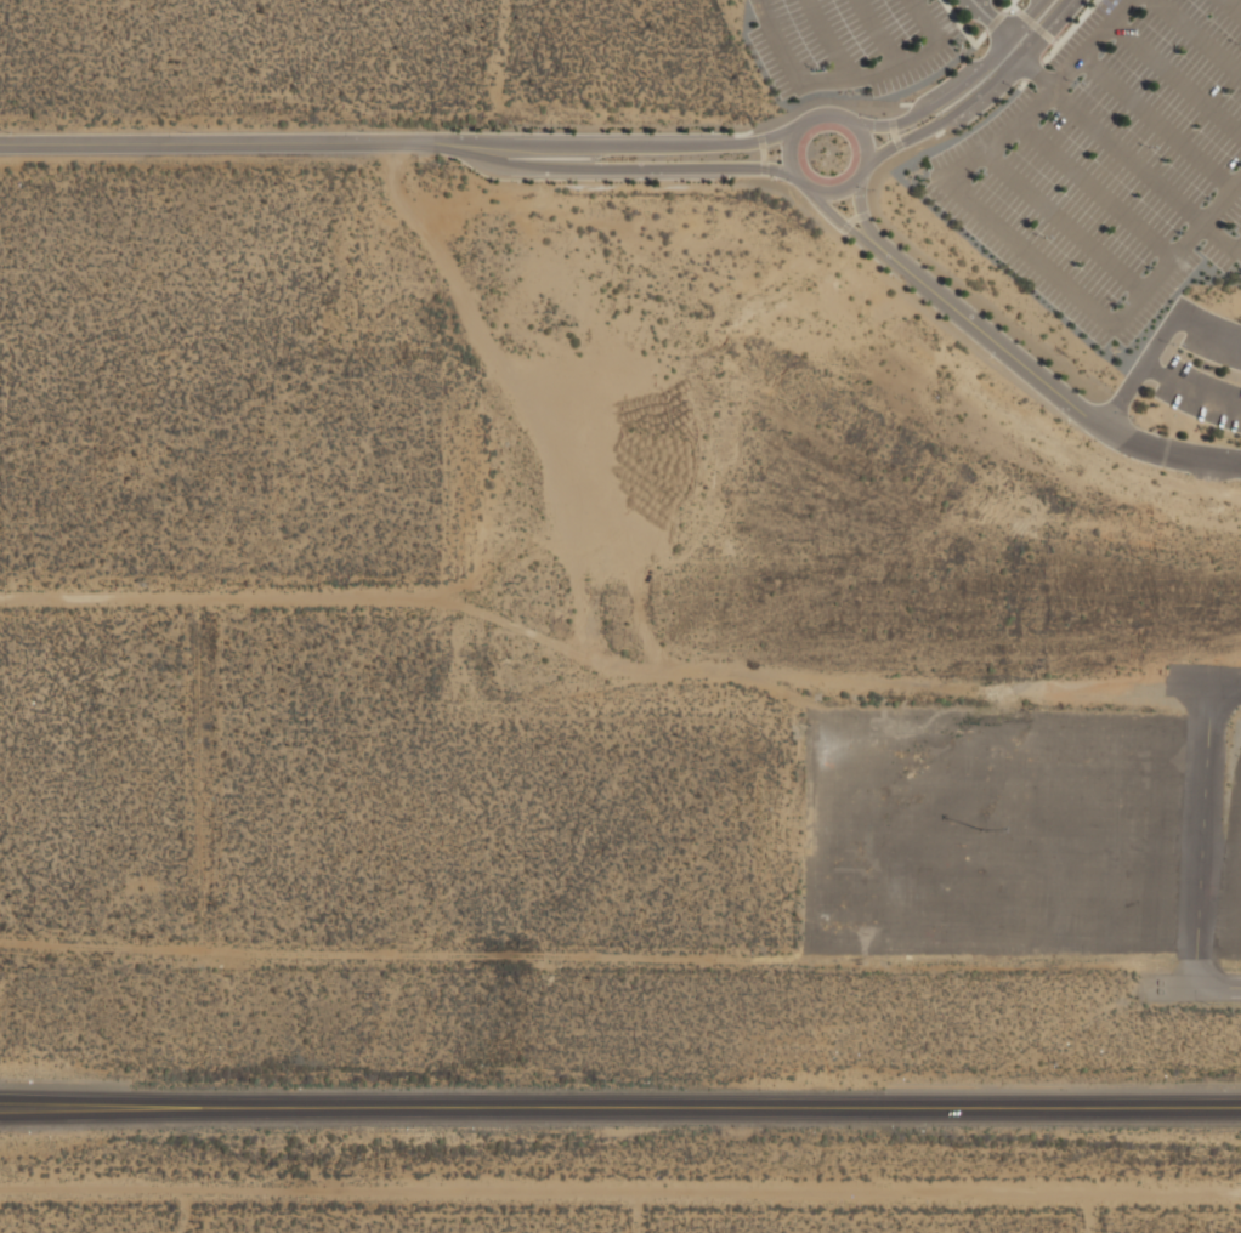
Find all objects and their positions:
road: (1007, 5)
road: (1013, 5)
road: (1231, 7)
road: (922, 18)
road: (958, 21)
road: (994, 21)
road: (994, 22)
road: (1033, 22)
road: (1035, 24)
road: (879, 30)
road: (1066, 30)
road: (1198, 36)
road: (980, 38)
road: (827, 39)
road: (781, 41)
parking lot: (854, 41)
road: (1054, 41)
road: (902, 58)
road: (1030, 66)
road: (1033, 69)
road: (1177, 76)
road: (834, 78)
road: (1022, 83)
road: (1041, 93)
road: (821, 100)
road: (937, 101)
road: (905, 103)
road: (948, 115)
road: (845, 119)
road: (1156, 121)
road: (890, 123)
road: (742, 132)
road: (894, 132)
road: (759, 135)
road: (897, 142)
road: (219, 144)
road: (620, 146)
road: (763, 152)
parking lot: (1112, 163)
road: (764, 166)
road: (1141, 167)
road: (616, 169)
road: (1094, 188)
road: (861, 212)
road: (862, 216)
road: (852, 220)
road: (1064, 220)
road: (841, 225)
road: (843, 226)
road: (1237, 246)
road: (1027, 250)
road: (1177, 250)
road: (1206, 333)
parking lot: (1206, 368)
road: (1139, 371)
road: (1049, 386)
road: (1190, 390)
parking lot: (1105, 808)
road: (1201, 818)
road: (1218, 987)
road: (106, 1104)
road: (726, 1106)
road: (106, 1110)

